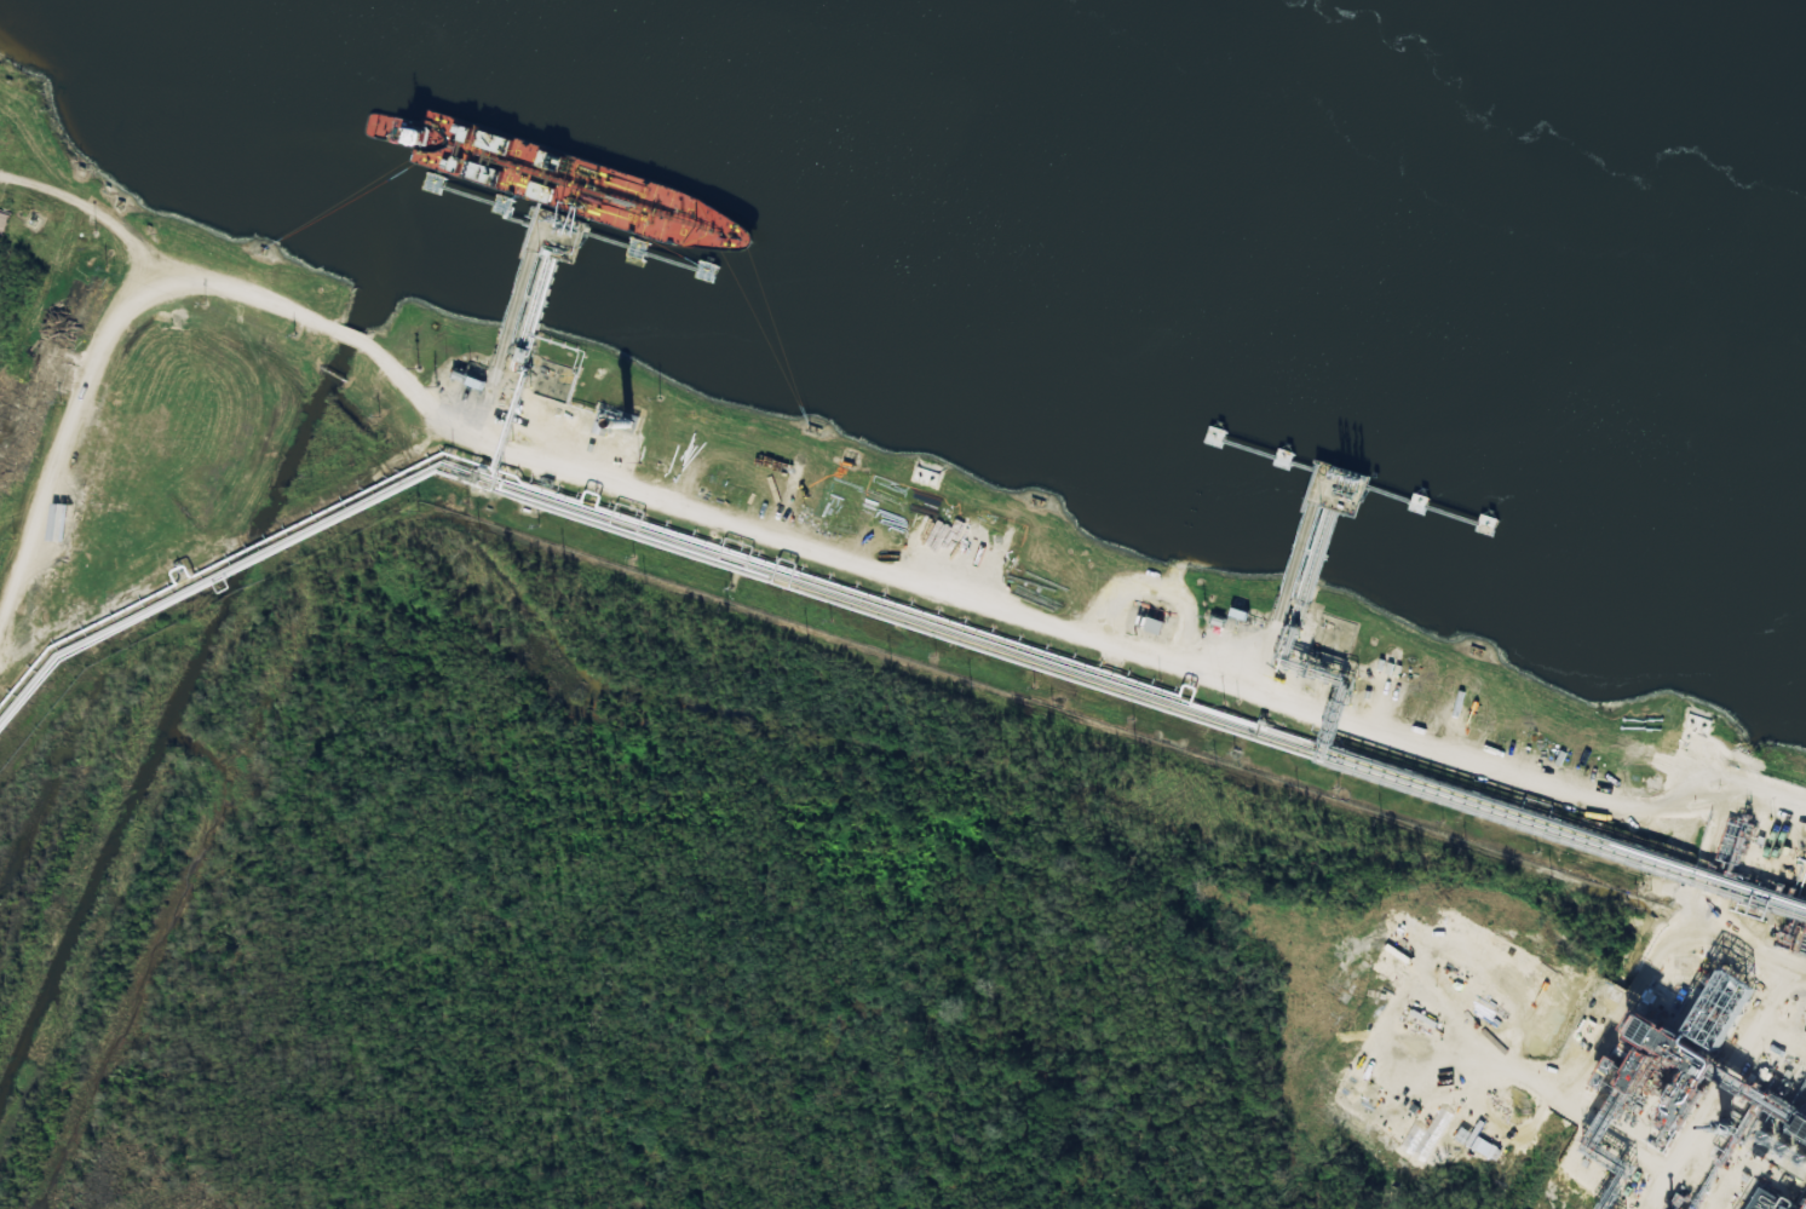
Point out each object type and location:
river: (1338, 155)
road: (97, 208)
road: (502, 382)
road: (801, 495)
road: (771, 546)
road: (1022, 572)
building: (1154, 626)
road: (1283, 641)
road: (1466, 715)
building: (1768, 1201)

